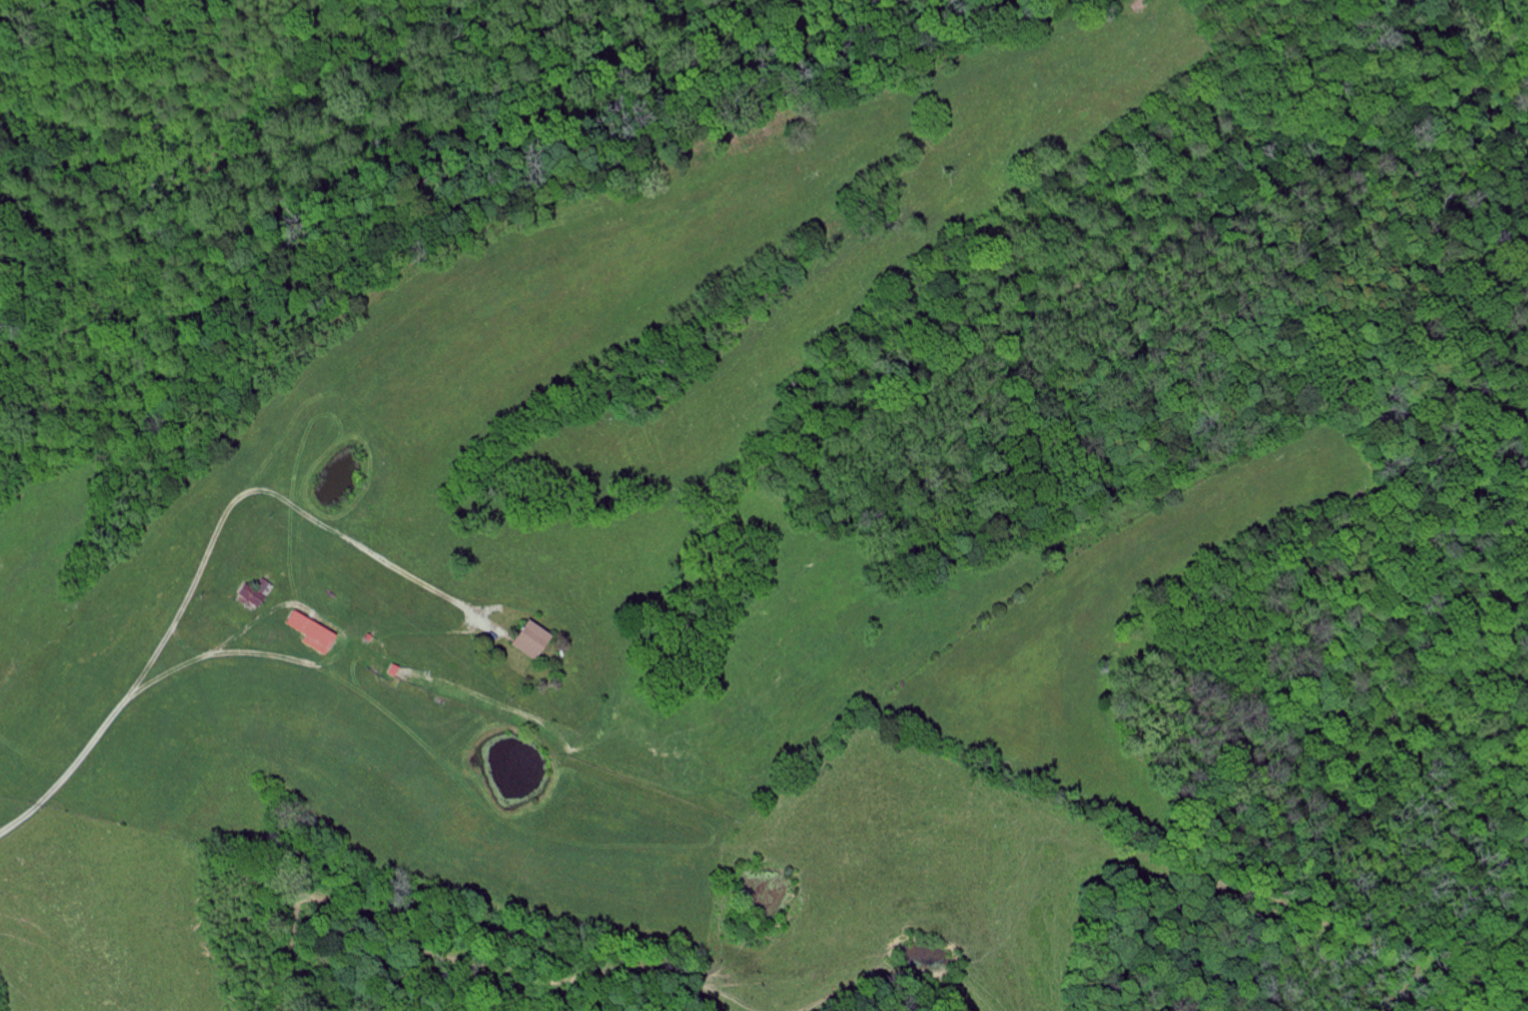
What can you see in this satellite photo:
building: (256, 596)
building: (317, 632)
building: (536, 640)

